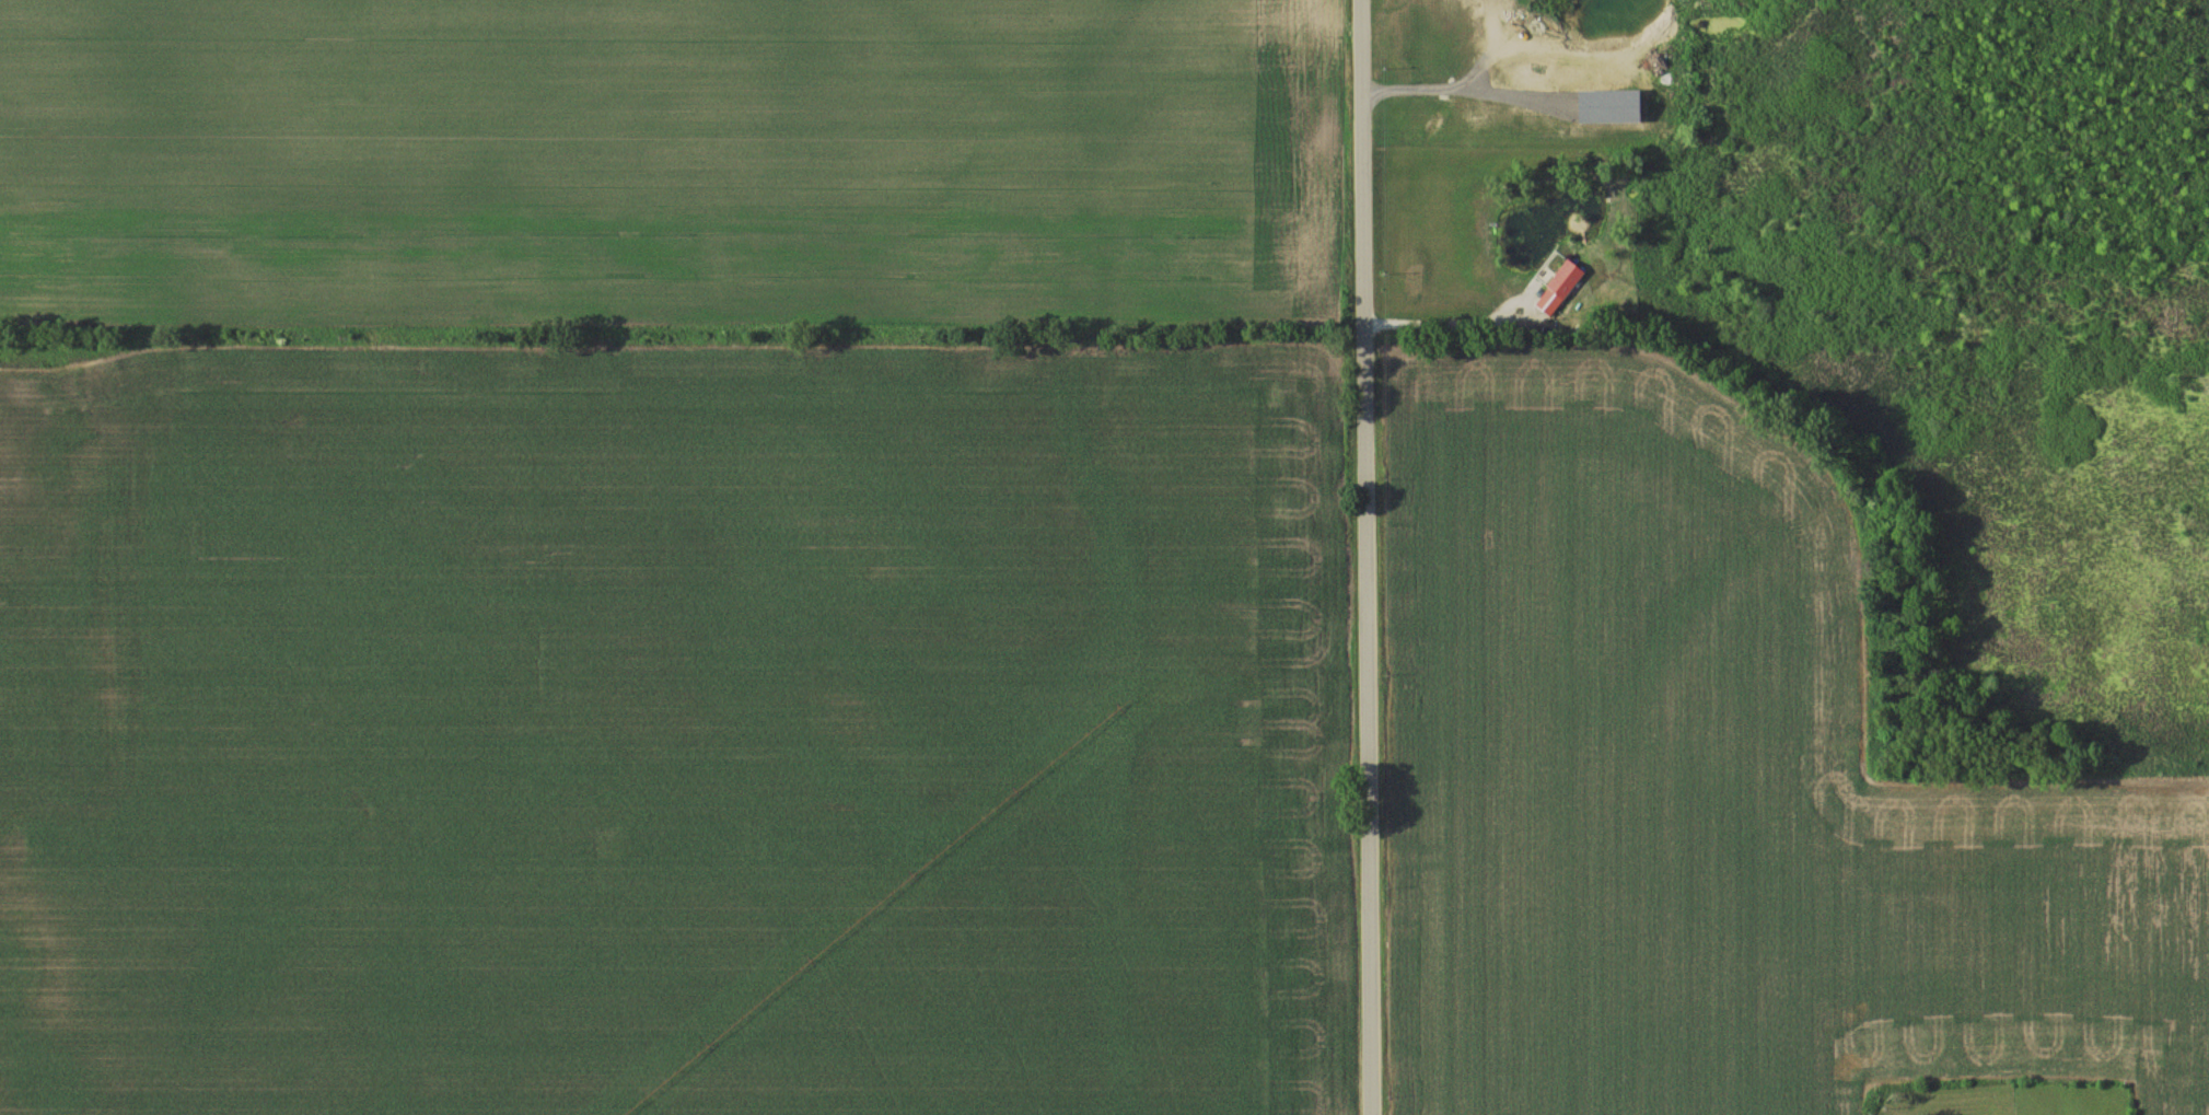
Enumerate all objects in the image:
building: (1559, 288)
road: (1433, 325)
road: (1368, 557)

